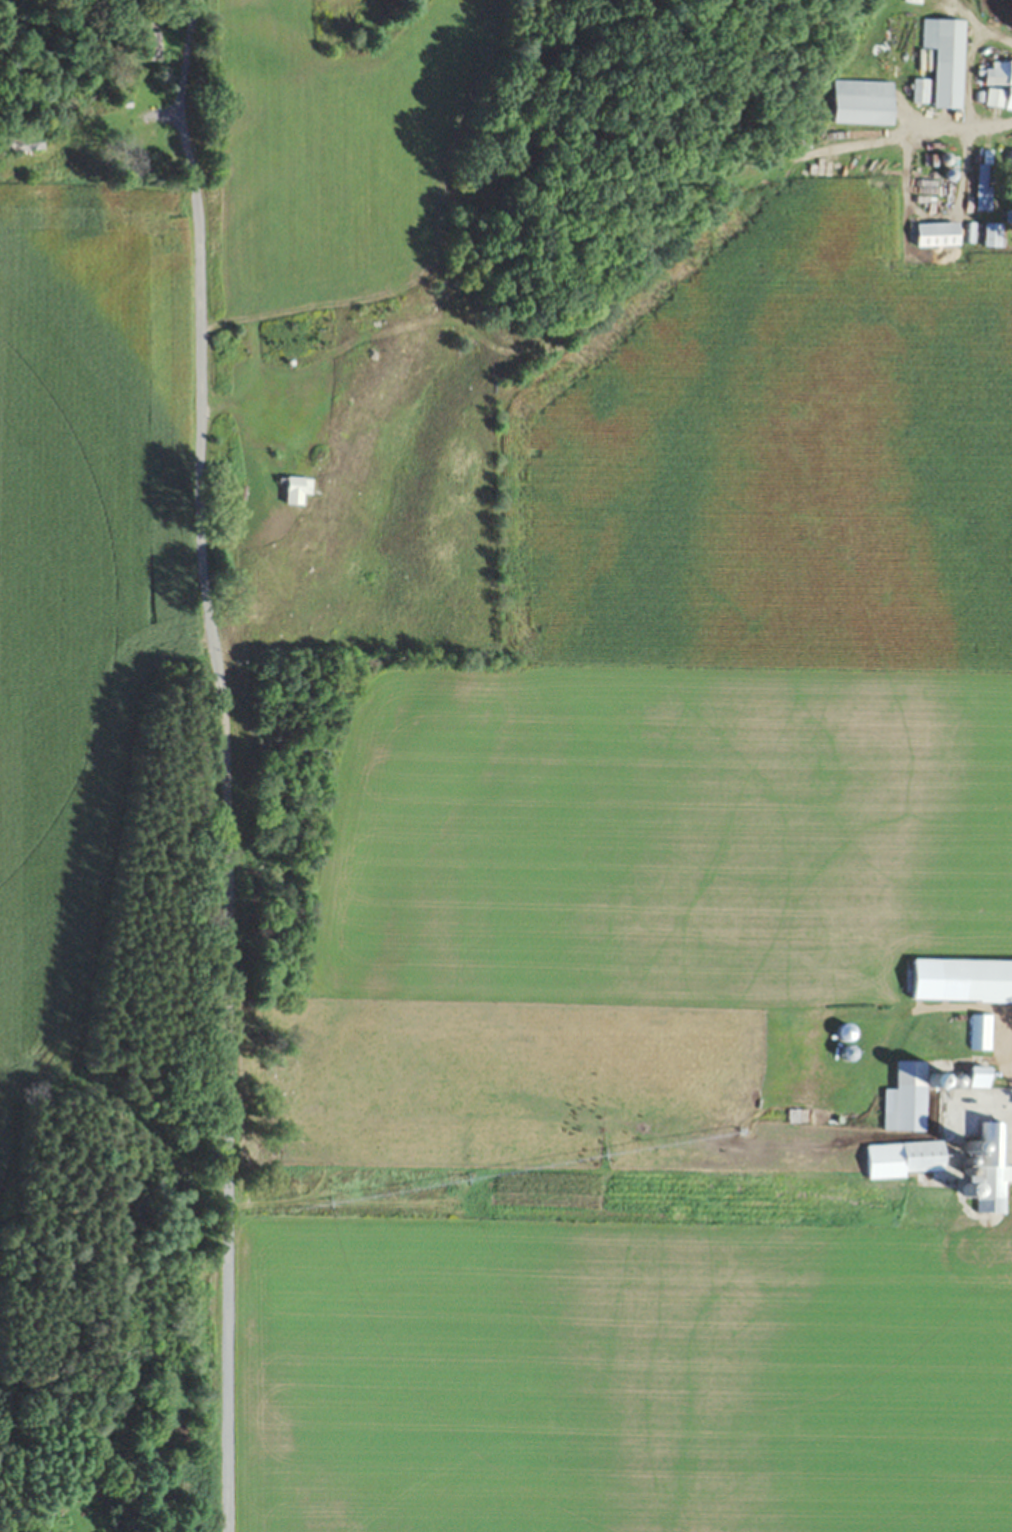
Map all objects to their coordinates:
building: (151, 43)
building: (947, 60)
building: (997, 83)
building: (921, 92)
road: (186, 95)
building: (866, 103)
road: (962, 119)
building: (25, 143)
building: (1010, 160)
building: (982, 187)
building: (938, 235)
building: (991, 235)
building: (292, 492)
road: (223, 860)
building: (961, 980)
road: (1011, 1022)
building: (847, 1032)
building: (980, 1032)
building: (923, 1092)
building: (904, 1159)
building: (990, 1169)
building: (923, 1240)

